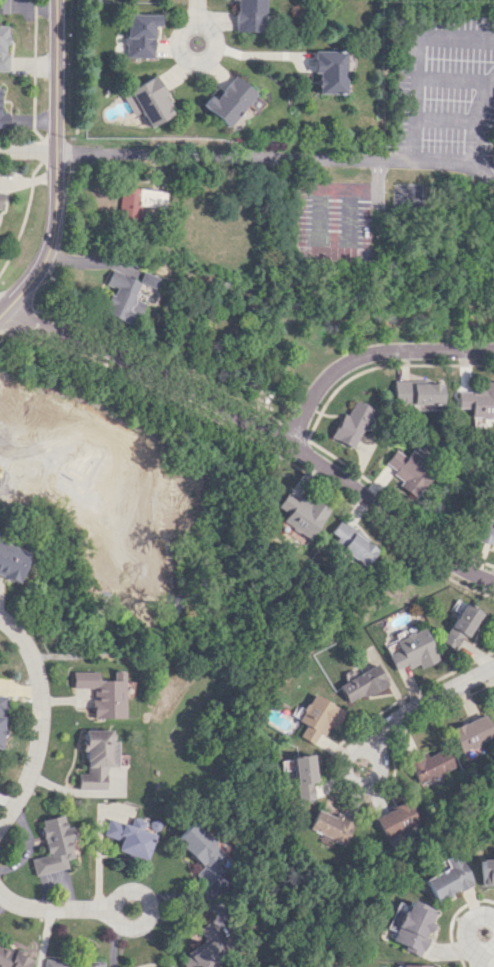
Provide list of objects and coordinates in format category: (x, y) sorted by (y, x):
building: (3, 6)
road: (200, 12)
building: (249, 15)
building: (141, 34)
building: (2, 47)
road: (410, 59)
road: (197, 61)
road: (77, 65)
road: (33, 70)
building: (327, 71)
parking lot: (444, 79)
building: (228, 99)
building: (149, 101)
building: (3, 119)
road: (40, 150)
road: (27, 151)
road: (229, 157)
road: (479, 159)
road: (55, 165)
building: (0, 198)
building: (138, 201)
road: (23, 217)
parking lot: (332, 224)
building: (148, 279)
building: (122, 297)
road: (15, 299)
road: (369, 353)
road: (146, 364)
building: (416, 392)
building: (477, 399)
building: (15, 406)
building: (425, 407)
building: (351, 423)
road: (284, 429)
road: (256, 430)
building: (406, 471)
road: (398, 505)
building: (300, 513)
building: (485, 533)
building: (349, 541)
building: (12, 561)
building: (461, 625)
building: (413, 648)
building: (362, 684)
building: (101, 692)
road: (429, 698)
building: (0, 711)
building: (318, 718)
road: (41, 726)
building: (474, 732)
building: (96, 758)
building: (434, 764)
building: (305, 776)
road: (360, 783)
road: (340, 785)
building: (401, 820)
building: (334, 825)
building: (130, 837)
building: (53, 845)
building: (203, 853)
building: (487, 871)
building: (449, 878)
road: (148, 911)
road: (54, 912)
building: (414, 927)
road: (465, 934)
building: (208, 948)
building: (12, 958)
building: (64, 963)
road: (491, 964)
building: (415, 965)
building: (169, 966)

